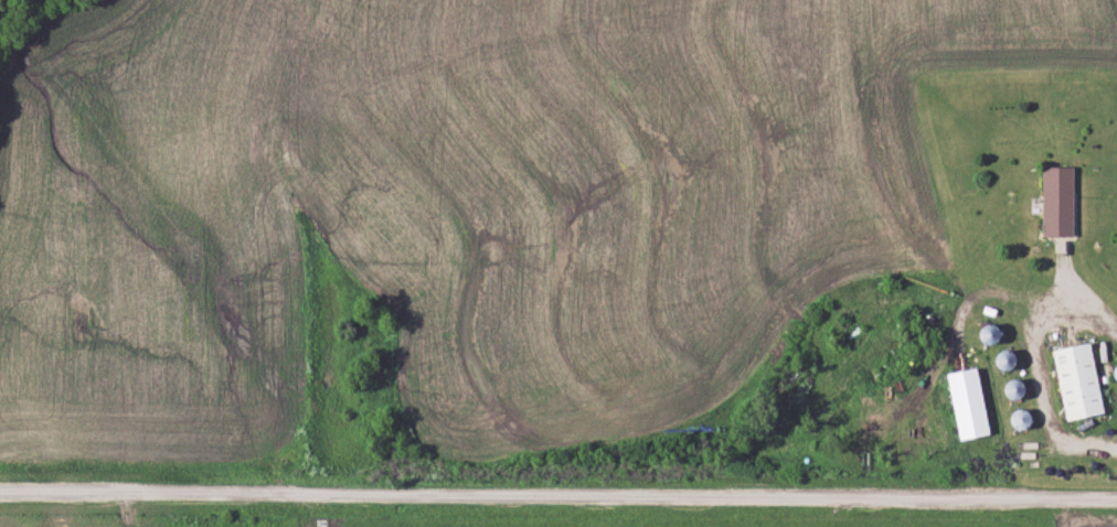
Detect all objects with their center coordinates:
building: (1061, 200)
building: (1081, 381)
building: (971, 404)
road: (558, 495)

